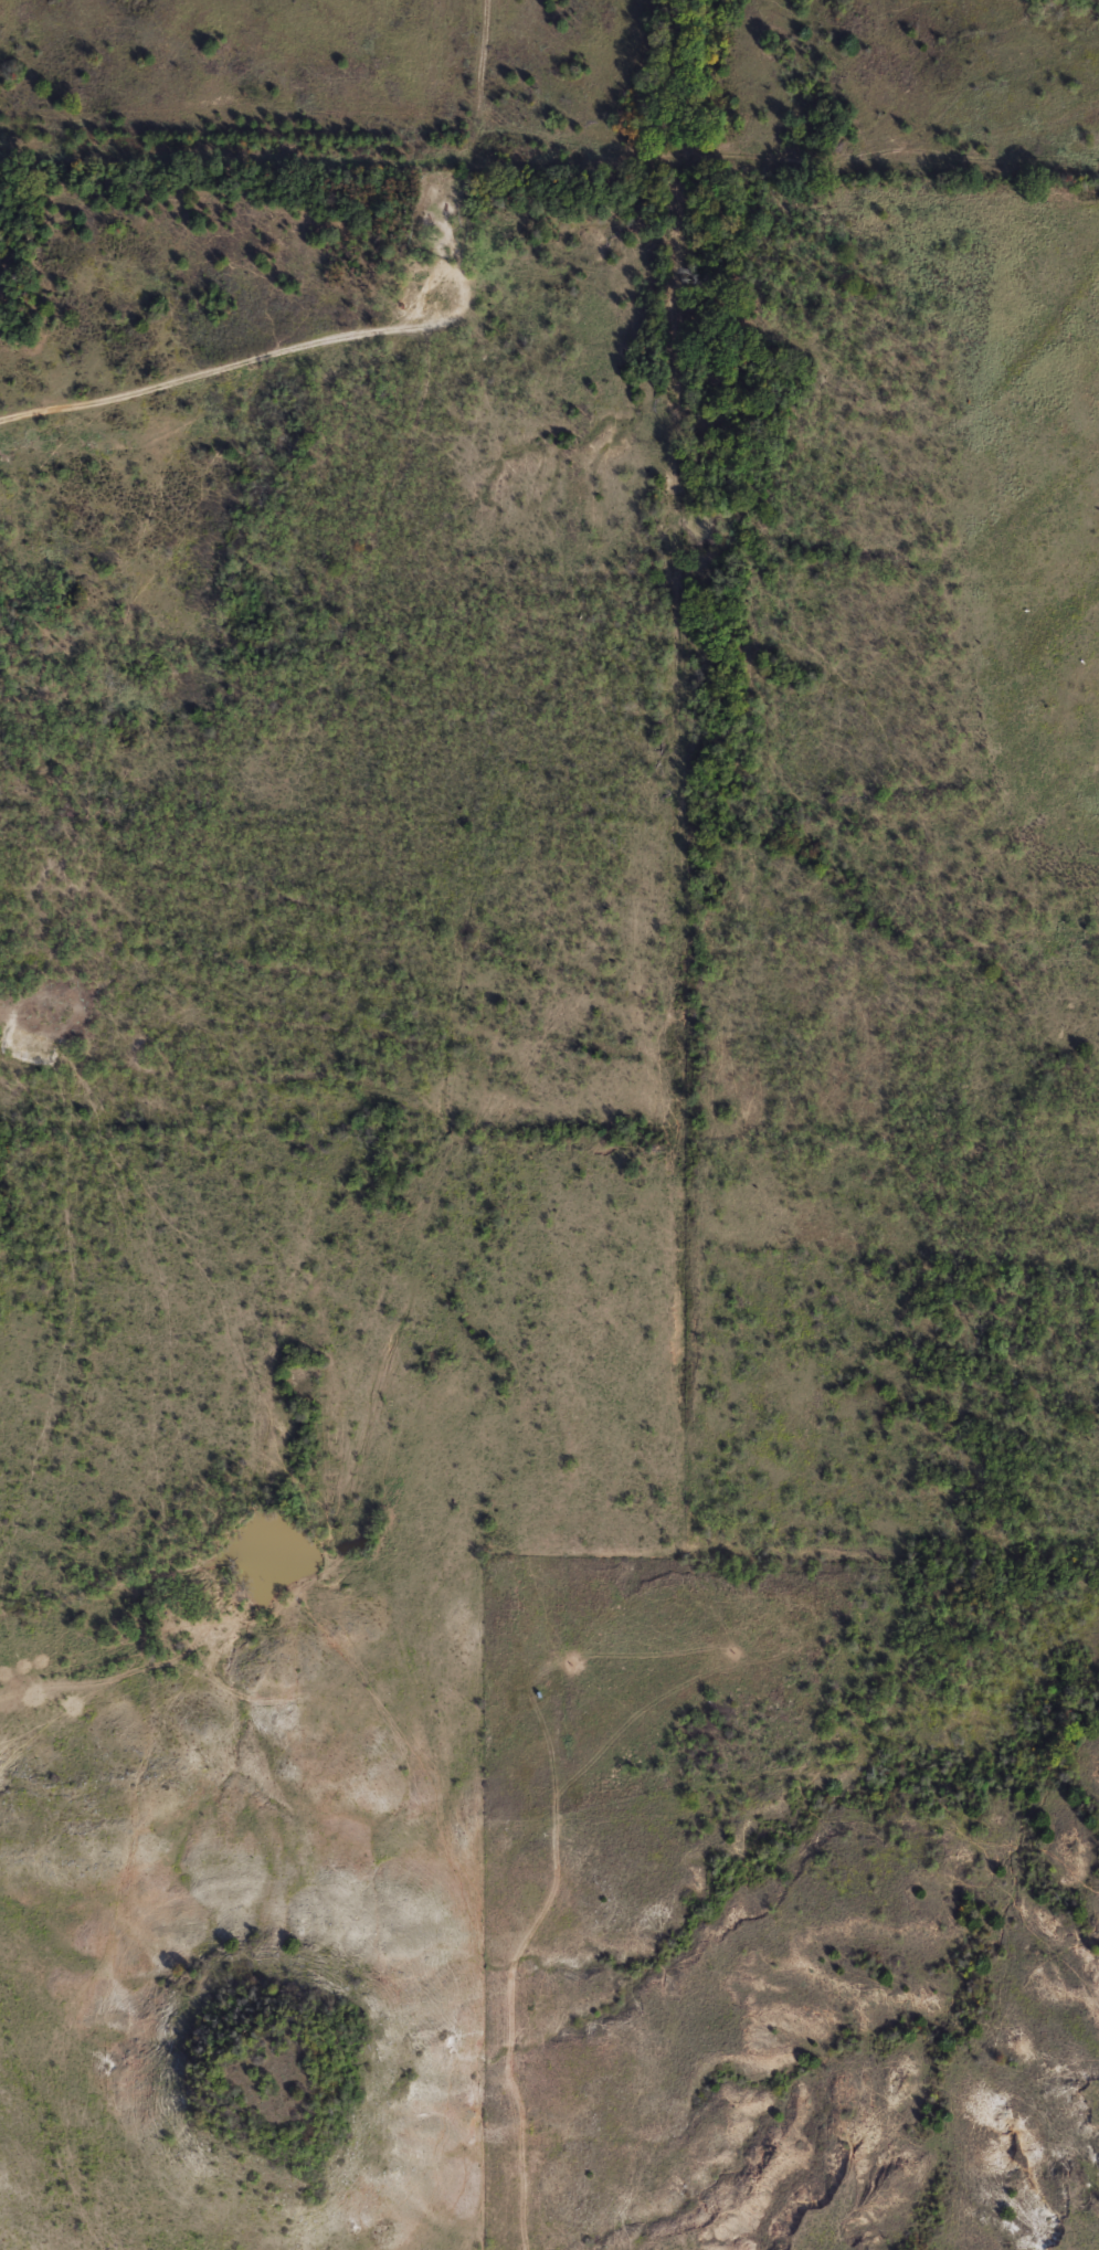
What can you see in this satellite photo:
road: (785, 156)
road: (361, 329)
road: (18, 1020)

